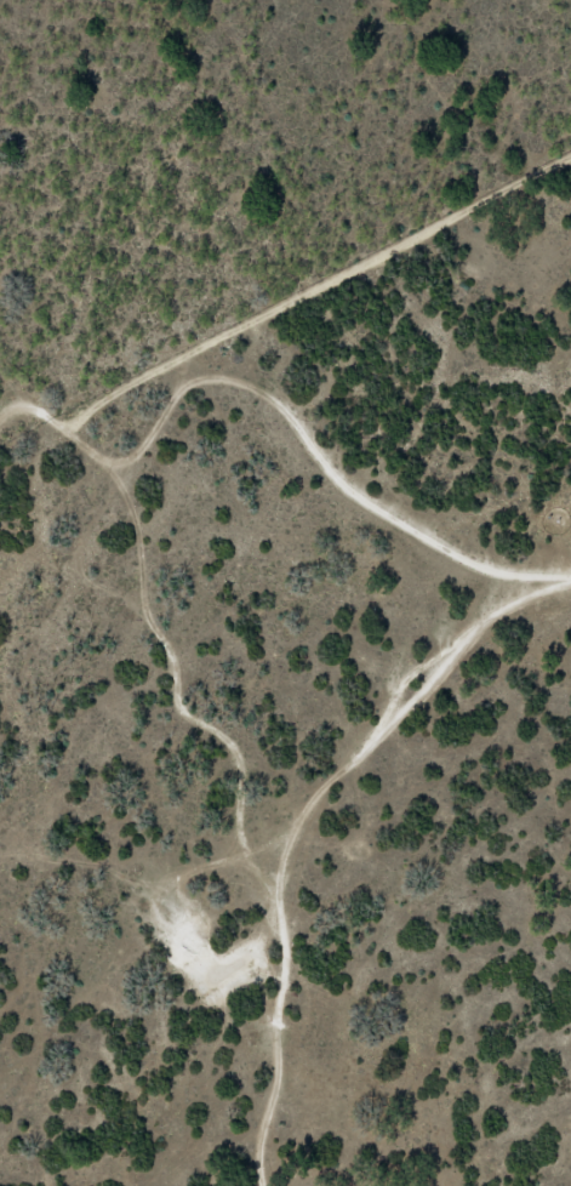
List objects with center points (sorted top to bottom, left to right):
road: (244, 684)

